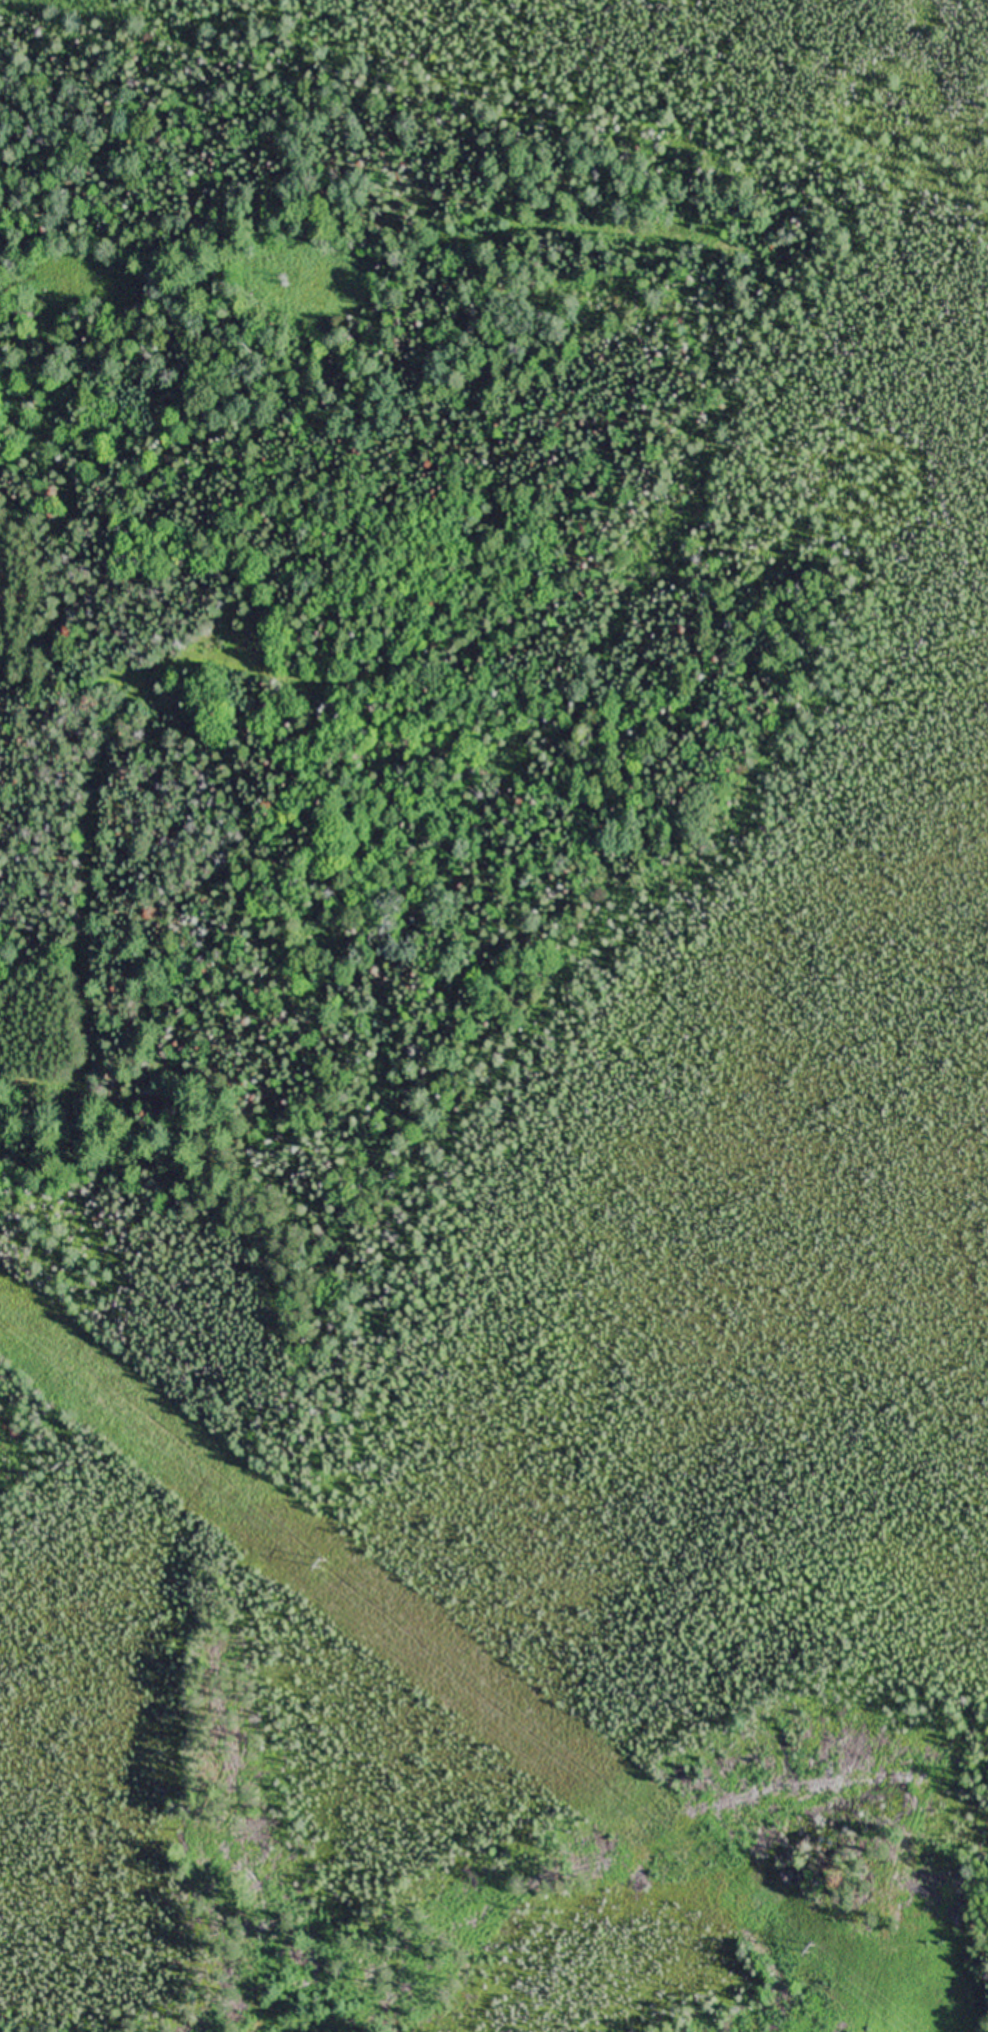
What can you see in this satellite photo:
power tower: (328, 1564)
power tower: (817, 1950)

